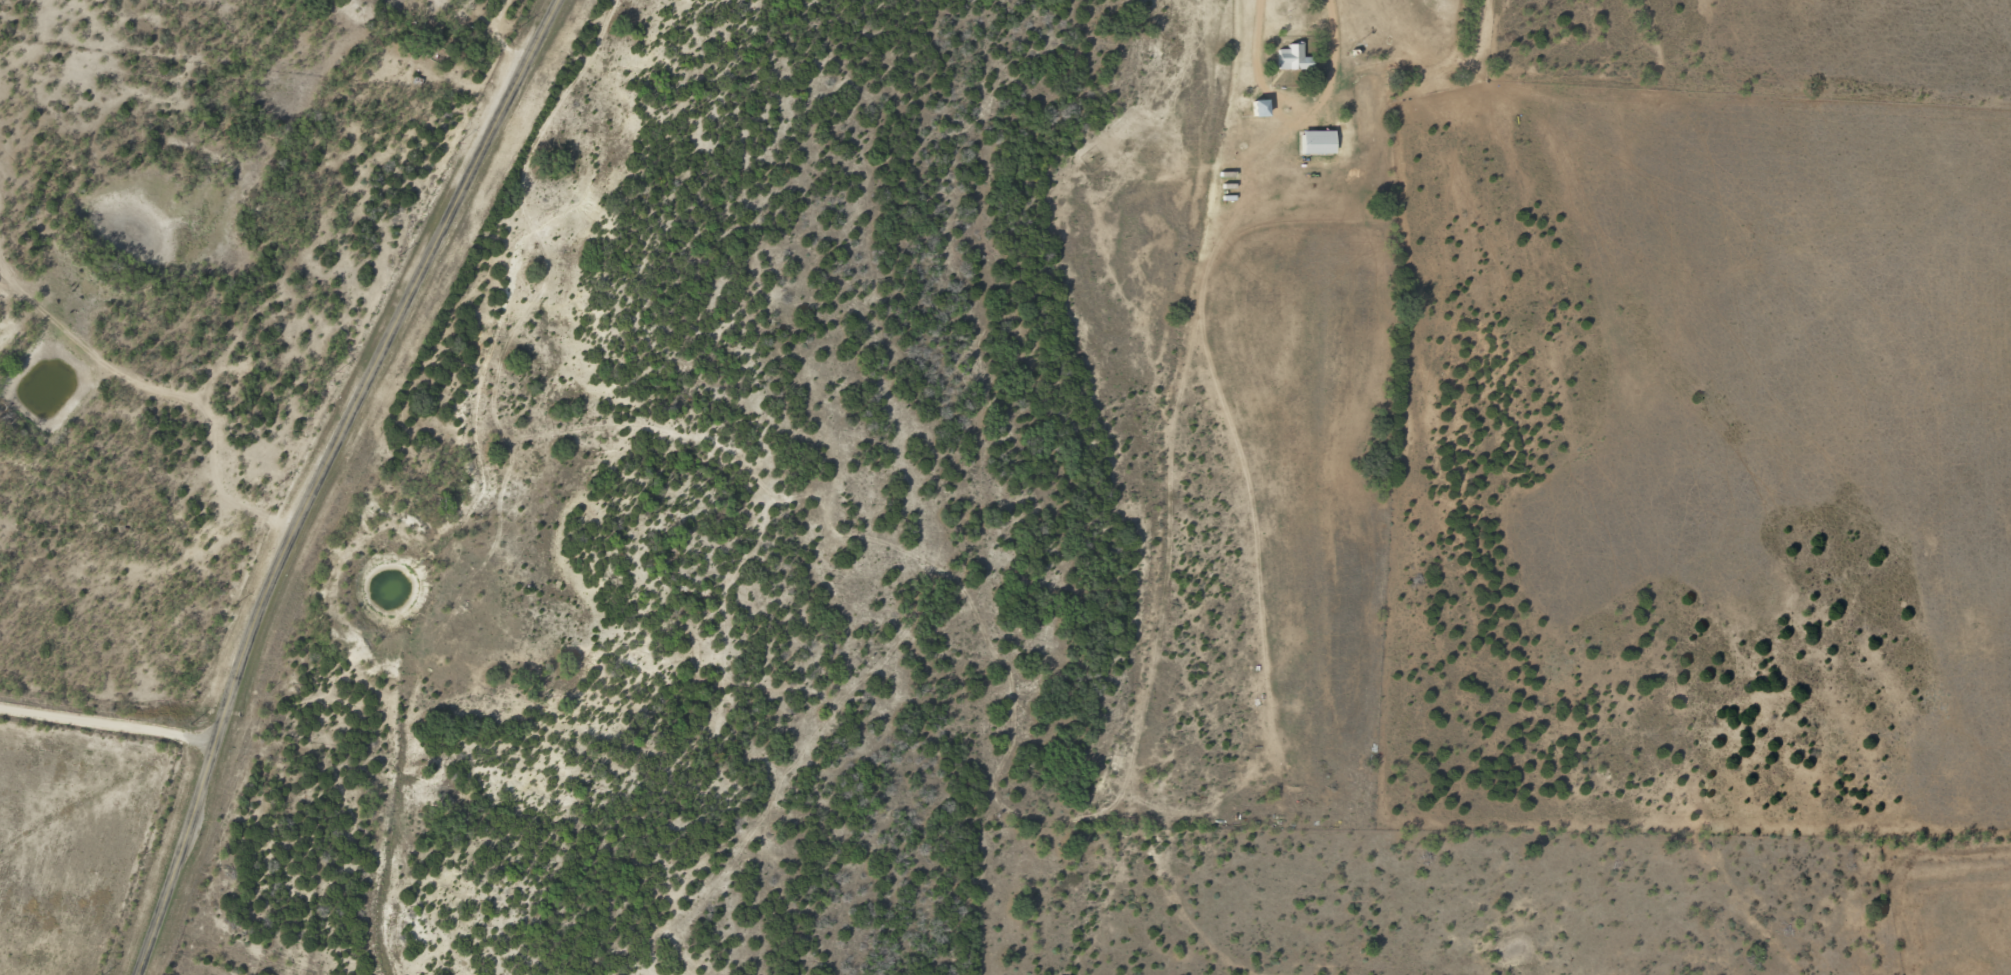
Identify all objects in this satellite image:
building: (1292, 58)
building: (1259, 108)
building: (1315, 142)
road: (318, 474)
road: (108, 728)

